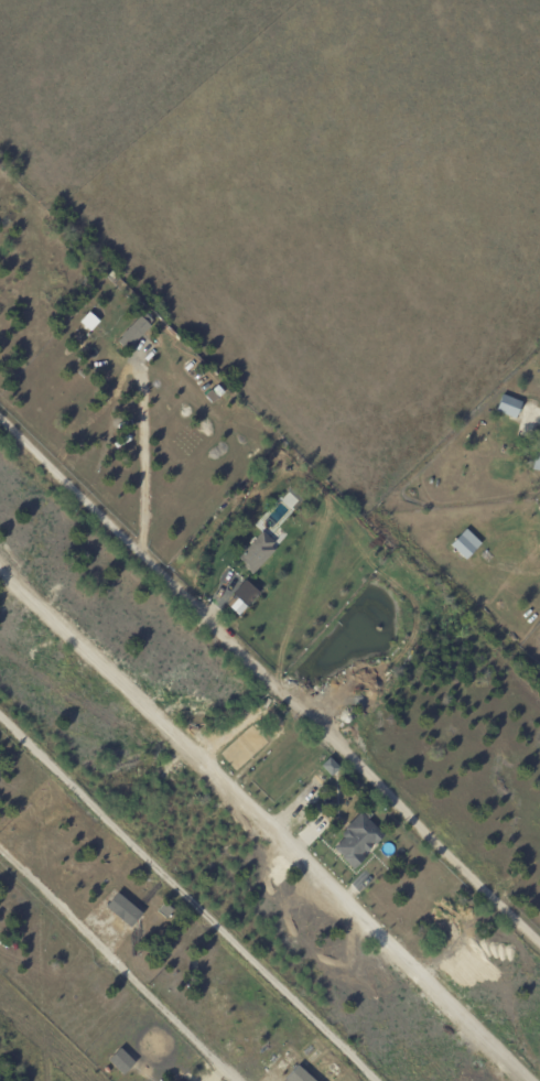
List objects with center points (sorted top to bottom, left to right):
building: (93, 321)
building: (139, 331)
road: (141, 391)
building: (509, 407)
building: (475, 426)
building: (537, 454)
building: (539, 507)
building: (466, 544)
building: (261, 552)
building: (246, 597)
road: (272, 682)
road: (266, 821)
building: (358, 841)
road: (194, 893)
road: (116, 965)
building: (303, 1075)

